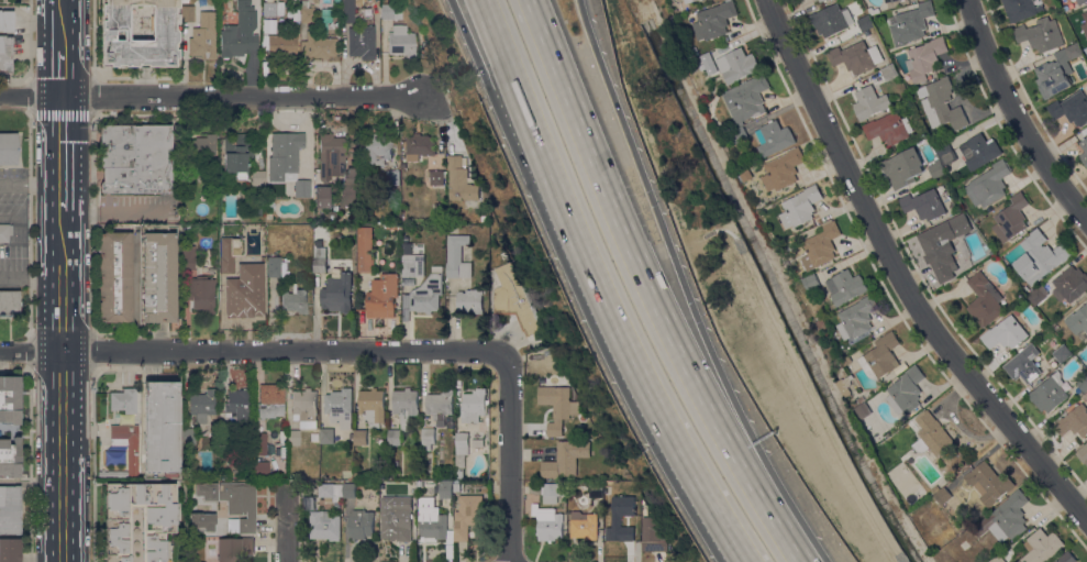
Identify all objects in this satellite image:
building: (813, 0)
building: (823, 0)
building: (888, 0)
building: (902, 0)
building: (1073, 0)
building: (185, 1)
building: (688, 1)
building: (1080, 1)
building: (1021, 8)
building: (269, 9)
building: (252, 10)
building: (874, 10)
building: (391, 11)
building: (306, 12)
building: (187, 13)
building: (347, 15)
road: (63, 18)
building: (831, 20)
building: (7, 21)
building: (713, 21)
building: (865, 22)
building: (910, 23)
building: (1085, 23)
building: (289, 26)
building: (138, 33)
building: (1041, 34)
building: (203, 36)
building: (239, 42)
building: (362, 42)
building: (401, 42)
building: (318, 45)
building: (281, 47)
building: (694, 52)
building: (5, 54)
building: (856, 57)
building: (924, 58)
building: (706, 60)
building: (737, 65)
road: (63, 66)
building: (889, 71)
building: (1057, 71)
road: (214, 96)
building: (747, 99)
building: (870, 102)
building: (941, 103)
building: (1071, 108)
road: (1018, 115)
building: (712, 117)
building: (182, 126)
building: (889, 128)
building: (740, 134)
building: (775, 137)
building: (420, 145)
building: (202, 147)
building: (8, 148)
building: (376, 148)
building: (237, 152)
building: (969, 152)
building: (1084, 153)
road: (63, 157)
building: (135, 157)
road: (544, 159)
building: (287, 161)
road: (524, 162)
building: (336, 167)
building: (903, 167)
building: (214, 168)
building: (936, 168)
building: (784, 169)
building: (953, 175)
building: (257, 177)
building: (393, 177)
building: (461, 180)
building: (188, 184)
building: (436, 184)
building: (989, 185)
building: (322, 197)
building: (925, 203)
building: (800, 208)
building: (333, 217)
building: (1011, 218)
building: (351, 220)
building: (972, 224)
building: (4, 232)
road: (63, 240)
building: (821, 245)
building: (938, 247)
building: (365, 249)
building: (503, 255)
building: (1040, 256)
building: (188, 257)
building: (457, 257)
building: (320, 258)
building: (229, 260)
building: (412, 265)
building: (277, 266)
road: (900, 273)
building: (114, 276)
building: (946, 276)
building: (159, 277)
building: (811, 282)
building: (1069, 284)
building: (845, 287)
road: (648, 289)
road: (686, 289)
building: (337, 291)
building: (201, 293)
building: (248, 294)
building: (382, 294)
building: (428, 295)
building: (1038, 295)
building: (984, 299)
building: (295, 300)
building: (470, 301)
building: (1086, 301)
building: (9, 302)
building: (515, 302)
road: (63, 305)
building: (857, 318)
building: (1078, 322)
building: (1054, 326)
building: (1006, 333)
road: (252, 349)
building: (1062, 353)
building: (880, 356)
building: (846, 361)
building: (1024, 364)
building: (1083, 383)
building: (848, 385)
building: (906, 390)
building: (1049, 393)
road: (63, 397)
building: (9, 399)
building: (270, 399)
building: (862, 399)
building: (123, 400)
building: (440, 404)
building: (202, 405)
building: (237, 405)
building: (475, 405)
building: (304, 406)
building: (373, 406)
building: (406, 406)
building: (340, 407)
building: (557, 407)
building: (863, 410)
building: (1074, 421)
building: (160, 427)
building: (932, 434)
building: (188, 436)
building: (326, 436)
building: (293, 437)
building: (395, 437)
building: (361, 438)
building: (428, 438)
building: (478, 442)
road: (675, 442)
building: (259, 443)
building: (462, 443)
building: (126, 444)
building: (1083, 454)
road: (509, 456)
building: (9, 458)
building: (566, 459)
road: (63, 463)
building: (259, 467)
building: (459, 473)
building: (358, 476)
road: (31, 482)
building: (419, 483)
building: (989, 483)
building: (350, 489)
building: (448, 489)
building: (597, 489)
building: (332, 491)
building: (553, 492)
building: (941, 494)
building: (600, 504)
building: (239, 505)
building: (10, 509)
building: (468, 515)
building: (397, 518)
building: (1006, 518)
building: (432, 519)
building: (615, 520)
road: (63, 521)
building: (137, 521)
building: (547, 522)
building: (362, 524)
building: (326, 525)
building: (584, 525)
road: (287, 531)
building: (652, 536)
building: (1041, 547)
building: (229, 549)
building: (10, 550)
building: (1067, 558)
building: (998, 559)

